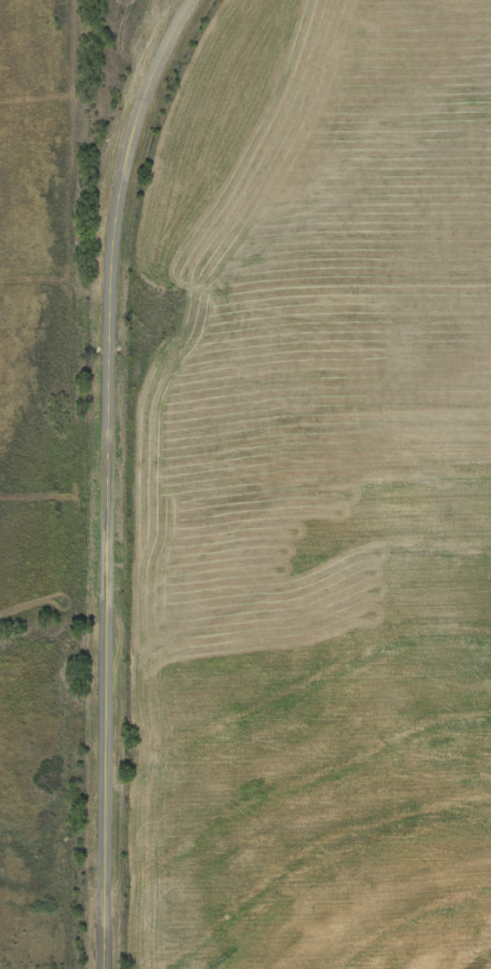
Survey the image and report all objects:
road: (108, 476)

